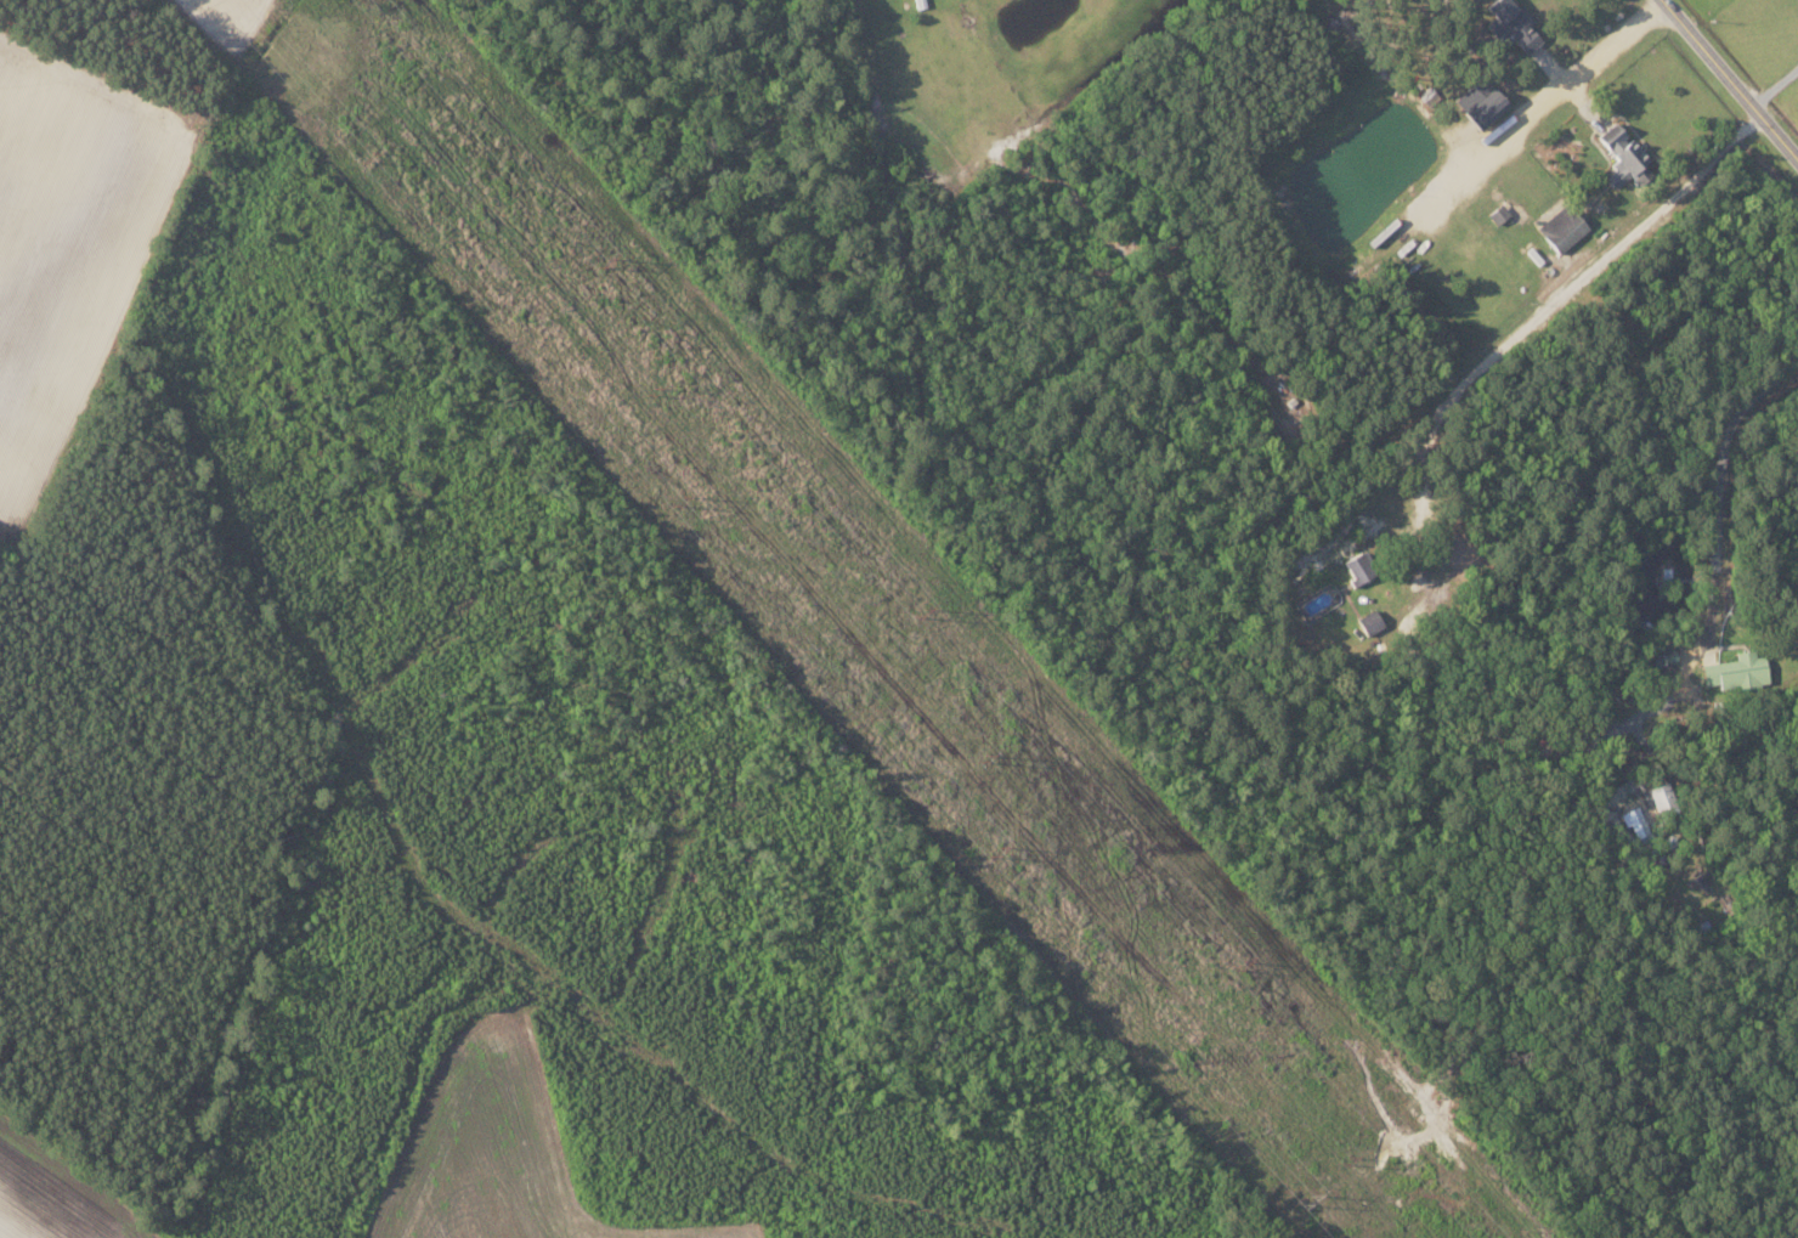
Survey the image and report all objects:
building: (1511, 24)
road: (1730, 78)
building: (1481, 102)
power tower: (371, 157)
building: (1623, 157)
building: (1562, 227)
power tower: (604, 261)
road: (1574, 279)
power tower: (652, 390)
road: (1719, 485)
power tower: (678, 507)
building: (1359, 566)
power tower: (921, 611)
building: (1370, 622)
building: (1737, 671)
power tower: (984, 756)
building: (1663, 797)
building: (1641, 830)
power tower: (997, 854)
power tower: (1242, 965)
power tower: (1347, 1157)
power tower: (1306, 1204)

